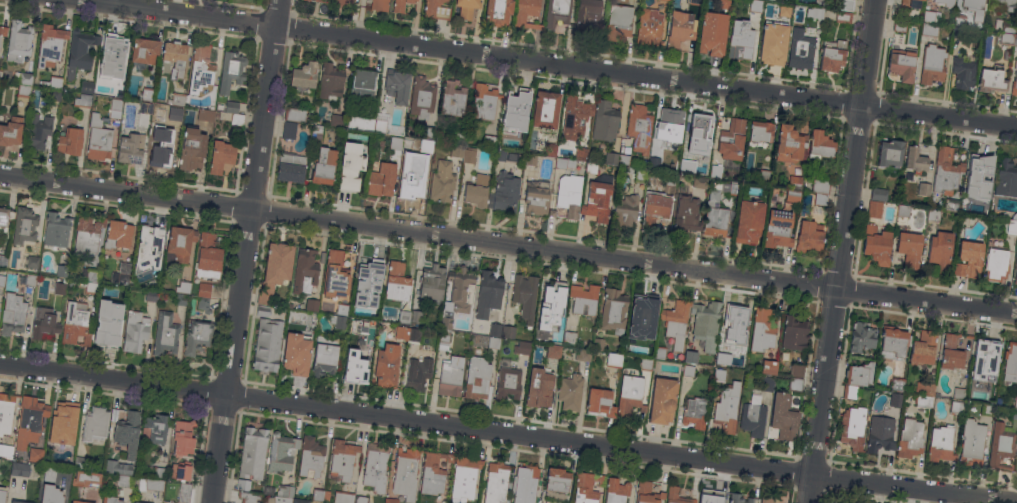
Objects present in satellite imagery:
building: (314, 0)
building: (357, 0)
building: (415, 0)
building: (664, 0)
building: (668, 0)
building: (919, 0)
building: (337, 2)
building: (694, 2)
building: (725, 3)
building: (909, 3)
building: (944, 3)
building: (379, 5)
building: (399, 5)
building: (755, 5)
building: (846, 5)
building: (1001, 5)
building: (466, 8)
building: (975, 8)
building: (436, 9)
building: (784, 10)
building: (497, 12)
building: (557, 12)
building: (815, 12)
building: (526, 13)
building: (914, 13)
building: (588, 15)
building: (843, 16)
building: (930, 16)
building: (959, 20)
building: (618, 22)
building: (901, 25)
building: (1007, 26)
building: (649, 27)
building: (679, 28)
building: (928, 29)
building: (3, 31)
building: (957, 32)
building: (712, 33)
building: (1008, 38)
building: (740, 39)
building: (19, 41)
building: (772, 43)
building: (50, 45)
building: (800, 49)
building: (80, 51)
building: (143, 53)
building: (832, 55)
building: (112, 56)
building: (175, 57)
road: (549, 63)
building: (932, 64)
building: (901, 65)
building: (200, 68)
building: (231, 70)
building: (0, 73)
building: (962, 73)
building: (304, 74)
building: (23, 77)
building: (991, 79)
building: (330, 80)
building: (1014, 81)
building: (52, 82)
building: (362, 82)
building: (469, 84)
building: (86, 86)
building: (396, 86)
building: (24, 90)
building: (54, 94)
building: (146, 94)
building: (421, 97)
building: (178, 99)
building: (452, 99)
building: (83, 100)
building: (484, 101)
building: (116, 104)
building: (219, 106)
building: (231, 106)
building: (145, 107)
building: (545, 109)
building: (159, 110)
building: (514, 112)
building: (295, 113)
building: (205, 115)
building: (573, 116)
building: (237, 118)
building: (336, 119)
building: (605, 120)
building: (360, 122)
building: (380, 126)
building: (667, 126)
building: (638, 128)
building: (289, 129)
building: (38, 130)
building: (10, 131)
building: (317, 131)
building: (699, 131)
building: (758, 132)
building: (459, 137)
building: (98, 138)
building: (731, 139)
building: (70, 141)
building: (489, 141)
building: (396, 143)
building: (789, 144)
building: (819, 145)
building: (129, 146)
building: (549, 148)
building: (158, 150)
building: (191, 150)
building: (422, 150)
building: (457, 150)
building: (580, 153)
building: (889, 153)
building: (220, 155)
building: (469, 155)
building: (500, 155)
building: (512, 156)
building: (529, 158)
building: (611, 158)
building: (623, 159)
building: (915, 160)
building: (654, 161)
building: (564, 163)
building: (324, 165)
building: (350, 165)
building: (684, 165)
building: (290, 166)
building: (591, 167)
building: (627, 169)
building: (715, 171)
building: (945, 171)
building: (640, 175)
building: (763, 176)
building: (978, 176)
building: (1006, 178)
building: (381, 179)
building: (670, 180)
building: (410, 181)
building: (794, 181)
building: (442, 182)
building: (699, 182)
building: (820, 186)
building: (733, 189)
building: (923, 189)
building: (476, 190)
building: (504, 192)
building: (569, 194)
building: (878, 194)
building: (792, 196)
building: (536, 197)
building: (598, 198)
building: (820, 198)
building: (951, 204)
building: (654, 209)
building: (874, 209)
building: (625, 210)
building: (903, 210)
building: (552, 213)
building: (686, 214)
building: (933, 214)
building: (1014, 215)
building: (716, 216)
building: (5, 217)
building: (748, 221)
building: (24, 225)
building: (1012, 225)
building: (777, 228)
building: (56, 230)
building: (118, 234)
building: (87, 236)
building: (807, 237)
building: (180, 242)
road: (508, 244)
building: (876, 245)
building: (148, 248)
building: (909, 248)
road: (247, 251)
road: (844, 251)
building: (939, 251)
building: (207, 256)
building: (968, 259)
building: (3, 260)
building: (32, 261)
building: (996, 265)
building: (275, 269)
building: (62, 270)
building: (305, 271)
building: (90, 273)
building: (1015, 273)
building: (121, 274)
building: (335, 274)
building: (28, 279)
building: (396, 279)
building: (2, 280)
building: (431, 282)
building: (367, 284)
building: (183, 286)
building: (91, 287)
building: (59, 288)
building: (204, 289)
building: (457, 294)
building: (488, 294)
building: (151, 295)
building: (525, 295)
building: (553, 298)
building: (182, 299)
building: (583, 299)
building: (203, 303)
building: (311, 303)
building: (342, 308)
building: (262, 310)
building: (613, 311)
building: (12, 314)
building: (404, 316)
building: (416, 316)
building: (642, 317)
building: (44, 322)
building: (75, 322)
building: (107, 323)
building: (338, 323)
building: (675, 323)
building: (706, 324)
building: (734, 324)
building: (495, 329)
building: (135, 331)
building: (761, 331)
building: (400, 332)
building: (508, 332)
building: (794, 333)
building: (165, 334)
building: (414, 334)
building: (197, 335)
building: (538, 336)
building: (861, 336)
building: (569, 337)
building: (443, 340)
building: (493, 342)
building: (598, 343)
building: (893, 343)
building: (267, 344)
building: (522, 347)
building: (922, 348)
building: (555, 350)
building: (659, 352)
building: (950, 353)
building: (296, 354)
building: (583, 354)
building: (324, 355)
building: (690, 356)
building: (720, 359)
building: (984, 359)
building: (614, 360)
building: (1010, 362)
building: (645, 363)
building: (354, 364)
building: (386, 365)
building: (768, 366)
building: (796, 370)
building: (688, 371)
building: (418, 373)
building: (858, 374)
building: (719, 375)
building: (450, 376)
building: (477, 378)
building: (766, 382)
building: (507, 383)
building: (794, 383)
building: (897, 384)
building: (540, 387)
building: (924, 388)
building: (570, 391)
building: (849, 391)
building: (958, 393)
building: (629, 395)
building: (662, 400)
building: (895, 400)
building: (924, 400)
building: (1015, 401)
building: (599, 402)
building: (727, 407)
building: (956, 407)
building: (986, 409)
building: (5, 412)
building: (694, 412)
building: (1014, 414)
building: (753, 416)
building: (783, 416)
building: (30, 420)
building: (63, 423)
building: (95, 425)
building: (852, 427)
building: (155, 429)
building: (127, 431)
road: (507, 433)
building: (880, 434)
building: (182, 437)
building: (909, 439)
building: (971, 442)
building: (940, 444)
building: (1002, 444)
building: (6, 450)
building: (253, 452)
building: (281, 452)
building: (35, 454)
building: (311, 457)
building: (342, 459)
building: (80, 462)
building: (375, 466)
building: (117, 467)
building: (20, 468)
building: (180, 470)
building: (152, 471)
building: (49, 473)
building: (405, 473)
building: (433, 473)
building: (96, 477)
building: (464, 479)
building: (557, 479)
building: (124, 480)
building: (495, 481)
building: (154, 484)
building: (242, 484)
building: (524, 484)
building: (586, 487)
building: (268, 489)
building: (616, 491)
building: (184, 492)
building: (644, 492)
building: (2, 494)
building: (50, 494)
building: (282, 494)
building: (320, 495)
building: (661, 495)
building: (710, 495)
building: (248, 496)
building: (676, 496)
building: (343, 497)
building: (110, 499)
building: (360, 499)
building: (739, 499)
building: (300, 500)
building: (391, 500)
building: (766, 500)
building: (17, 501)
building: (77, 501)
building: (133, 502)
building: (136, 502)
building: (500, 502)

